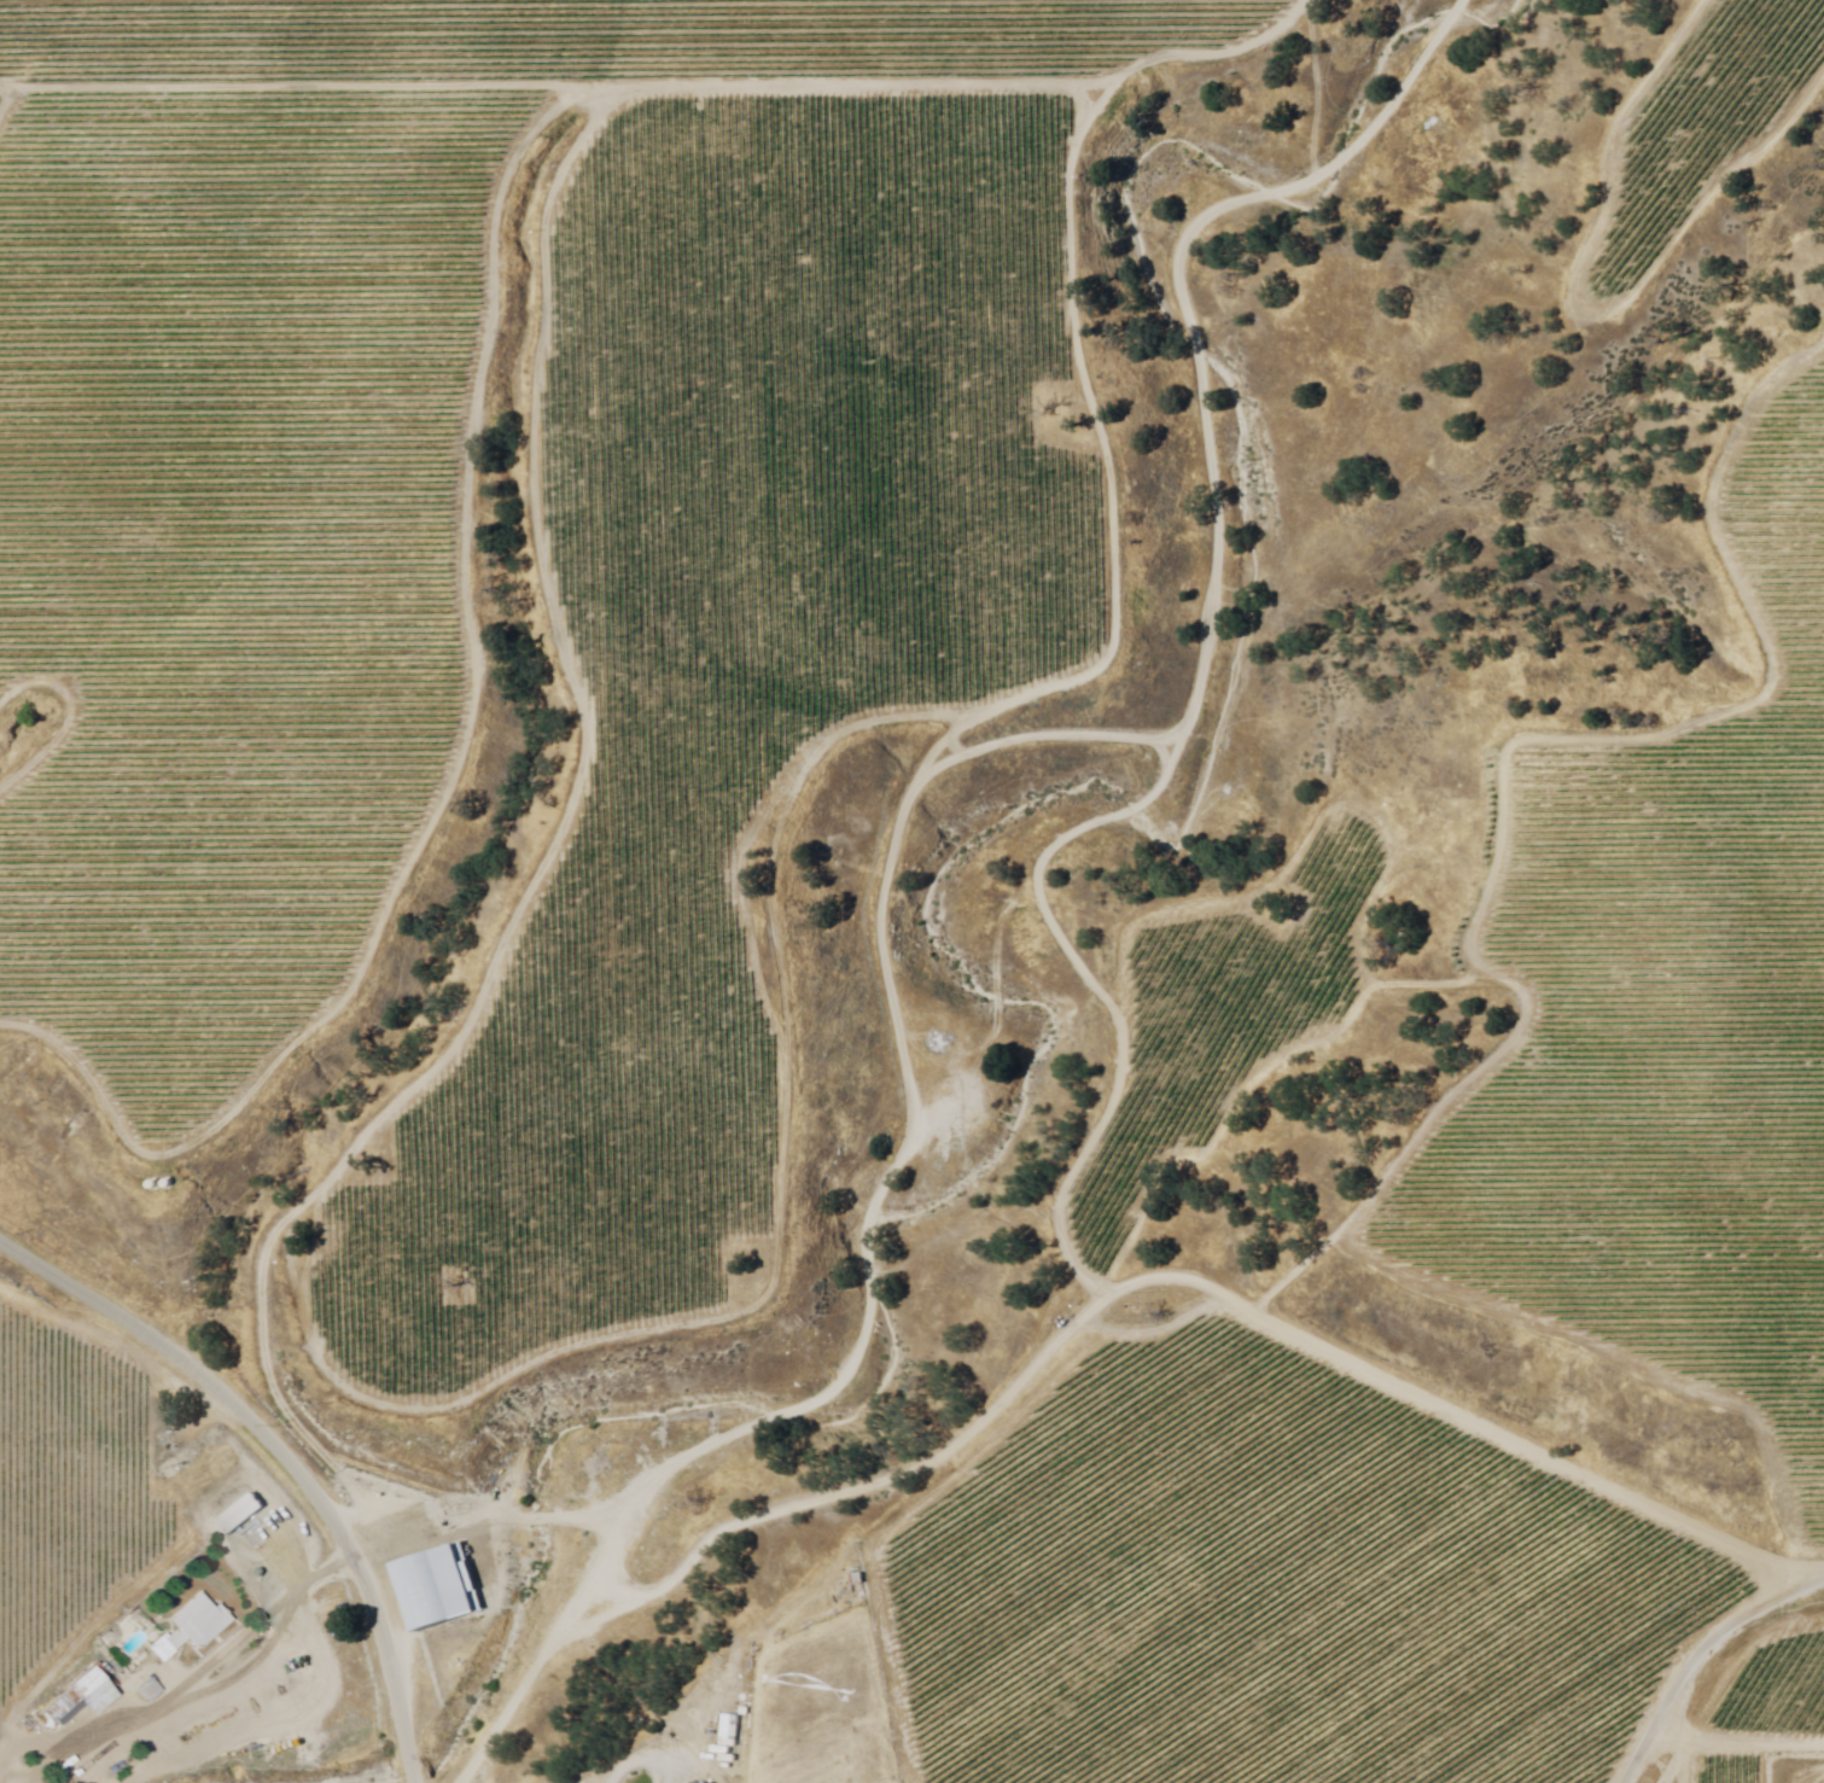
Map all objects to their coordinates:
road: (280, 1457)
crop: (69, 1528)
building: (439, 1587)
crop: (1311, 1597)
building: (193, 1628)
building: (150, 1690)
building: (92, 1691)
building: (58, 1717)
road: (637, 1776)

